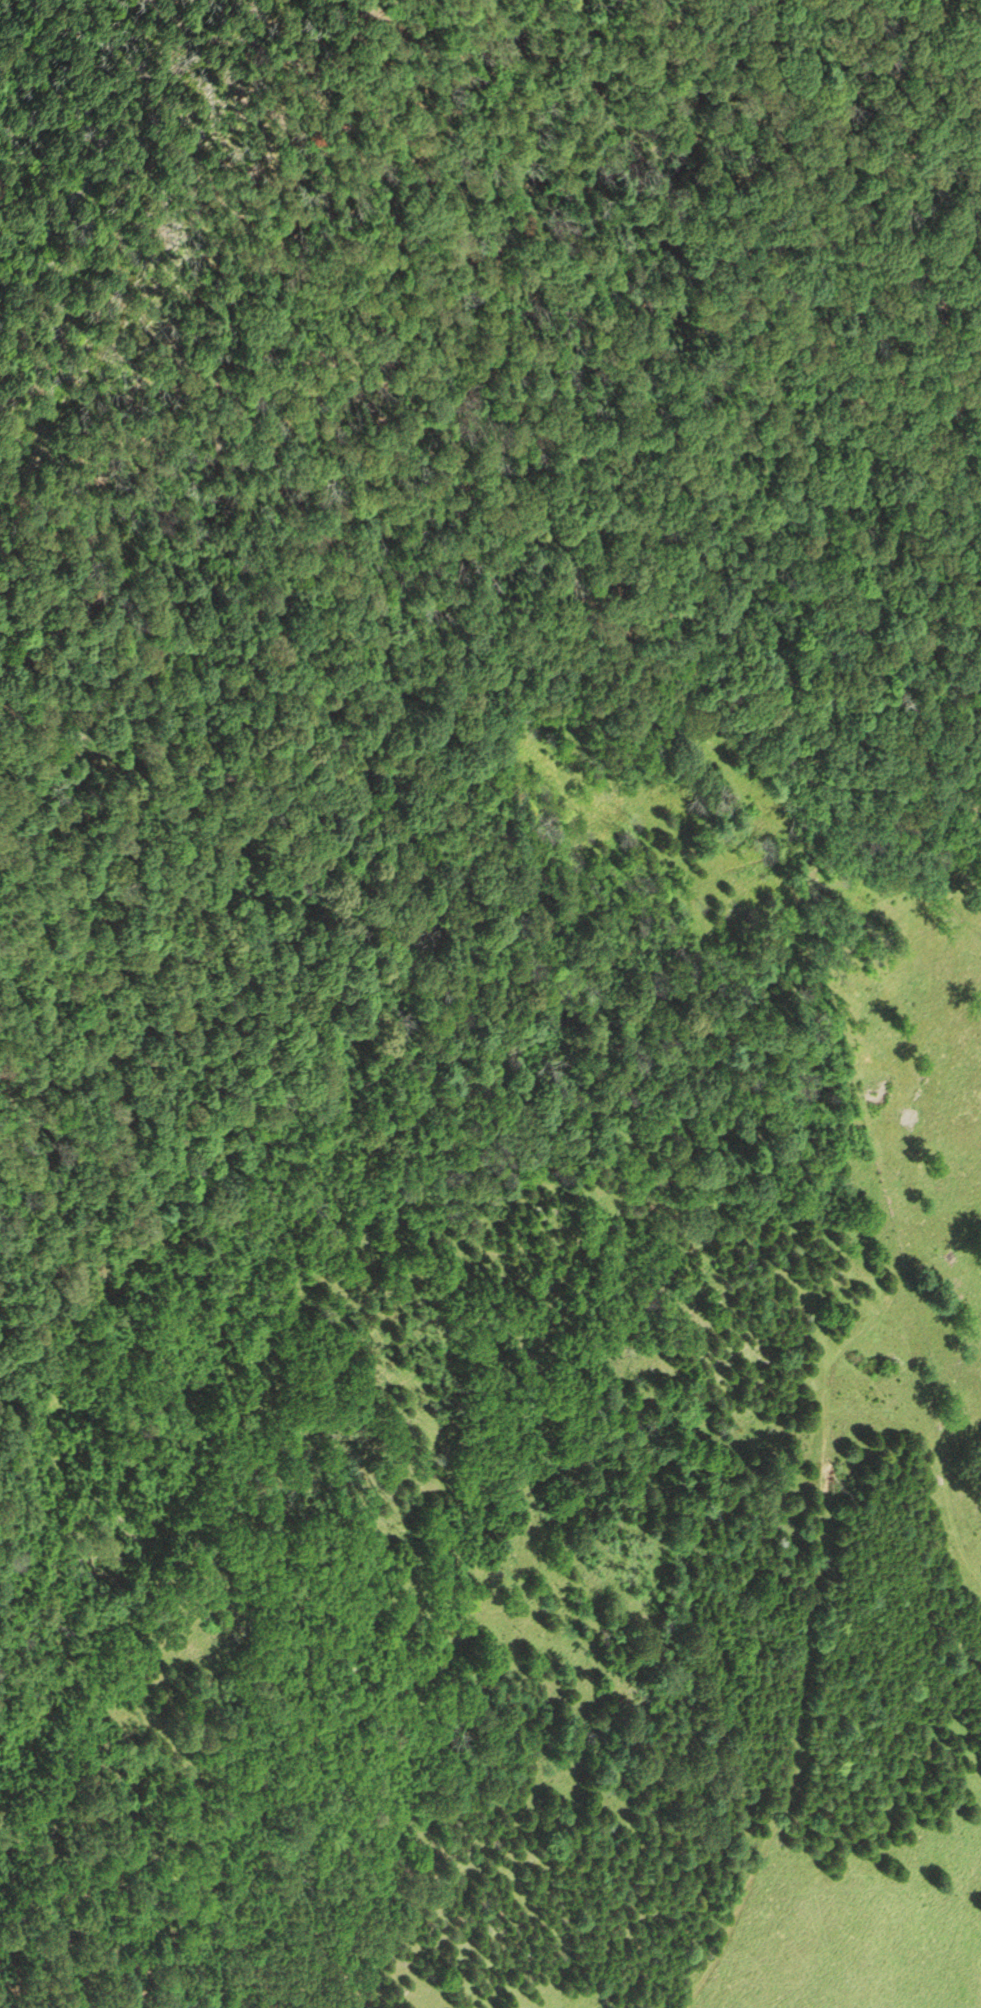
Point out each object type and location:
road: (348, 530)
road: (813, 1626)

